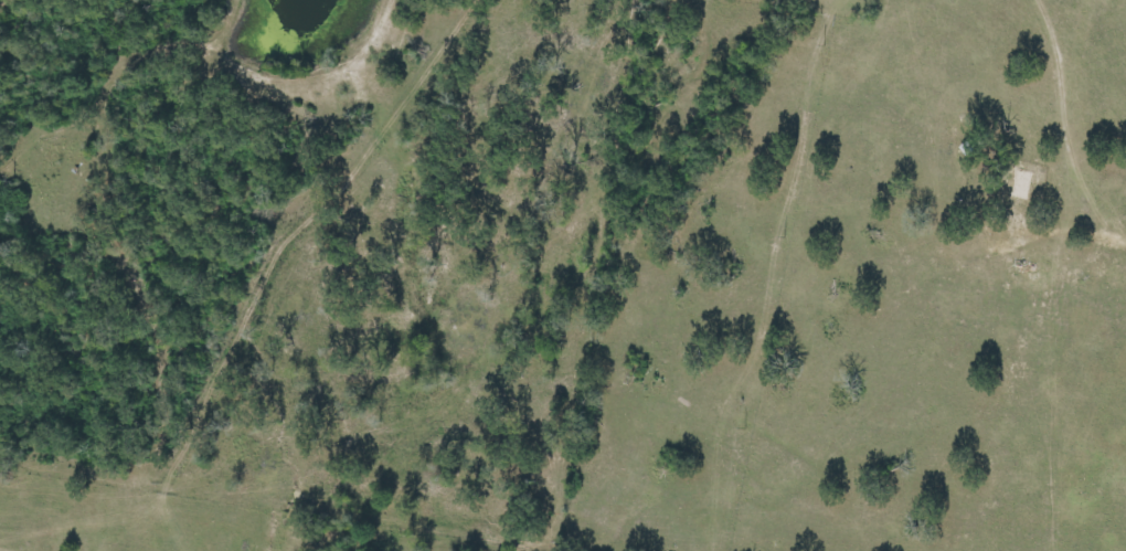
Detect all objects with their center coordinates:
road: (1106, 153)

